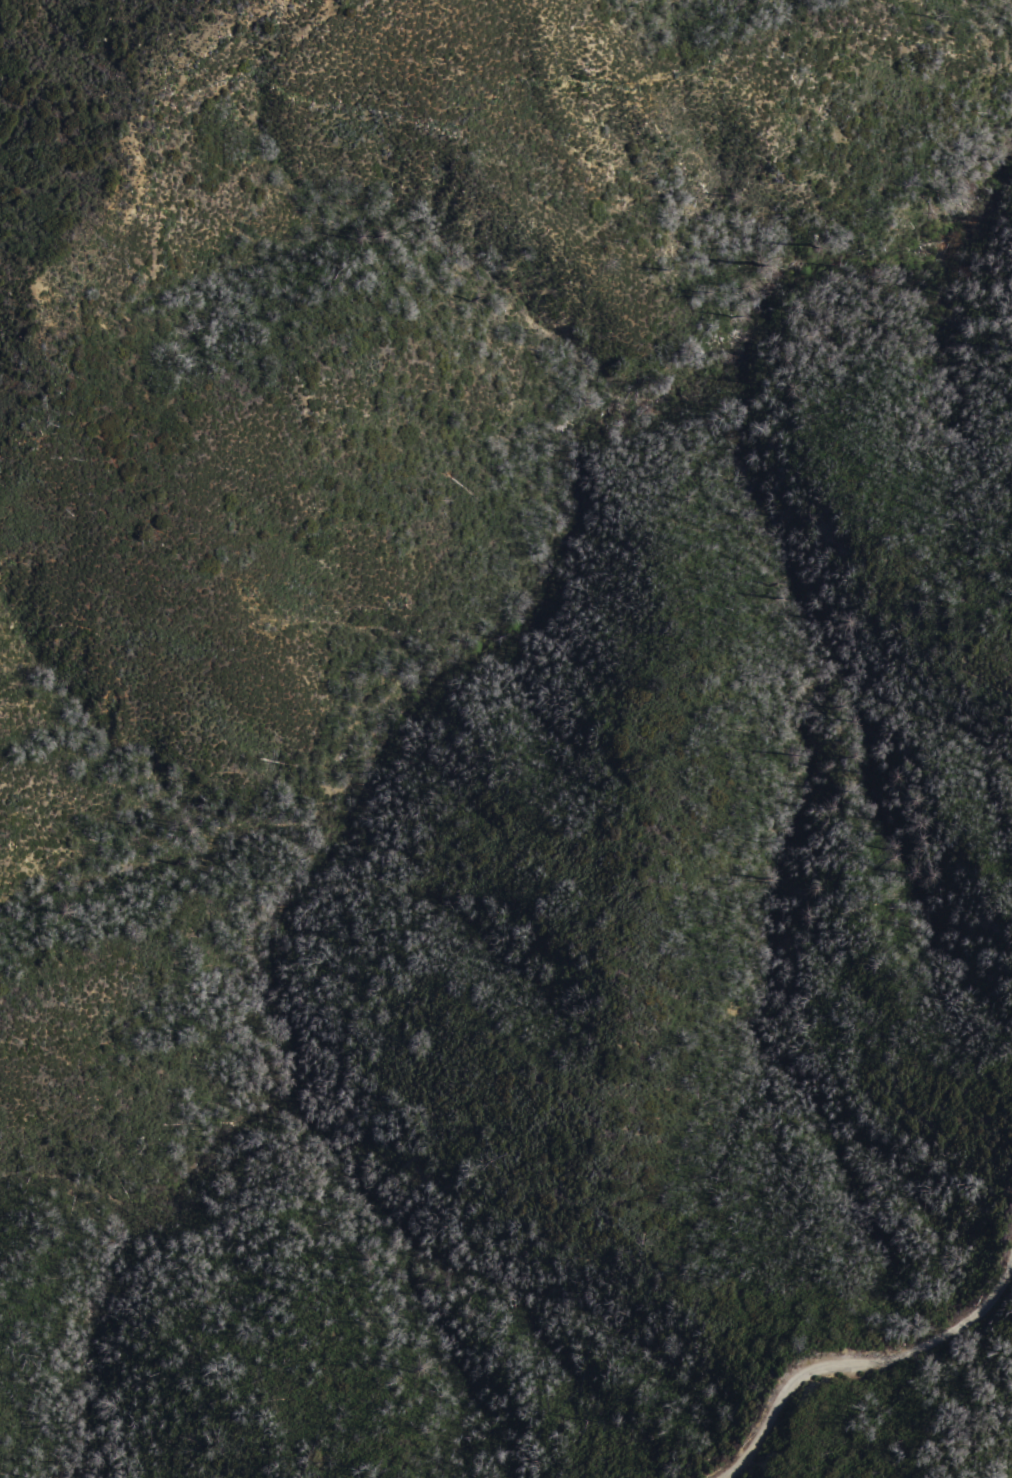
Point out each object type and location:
road: (863, 1363)

